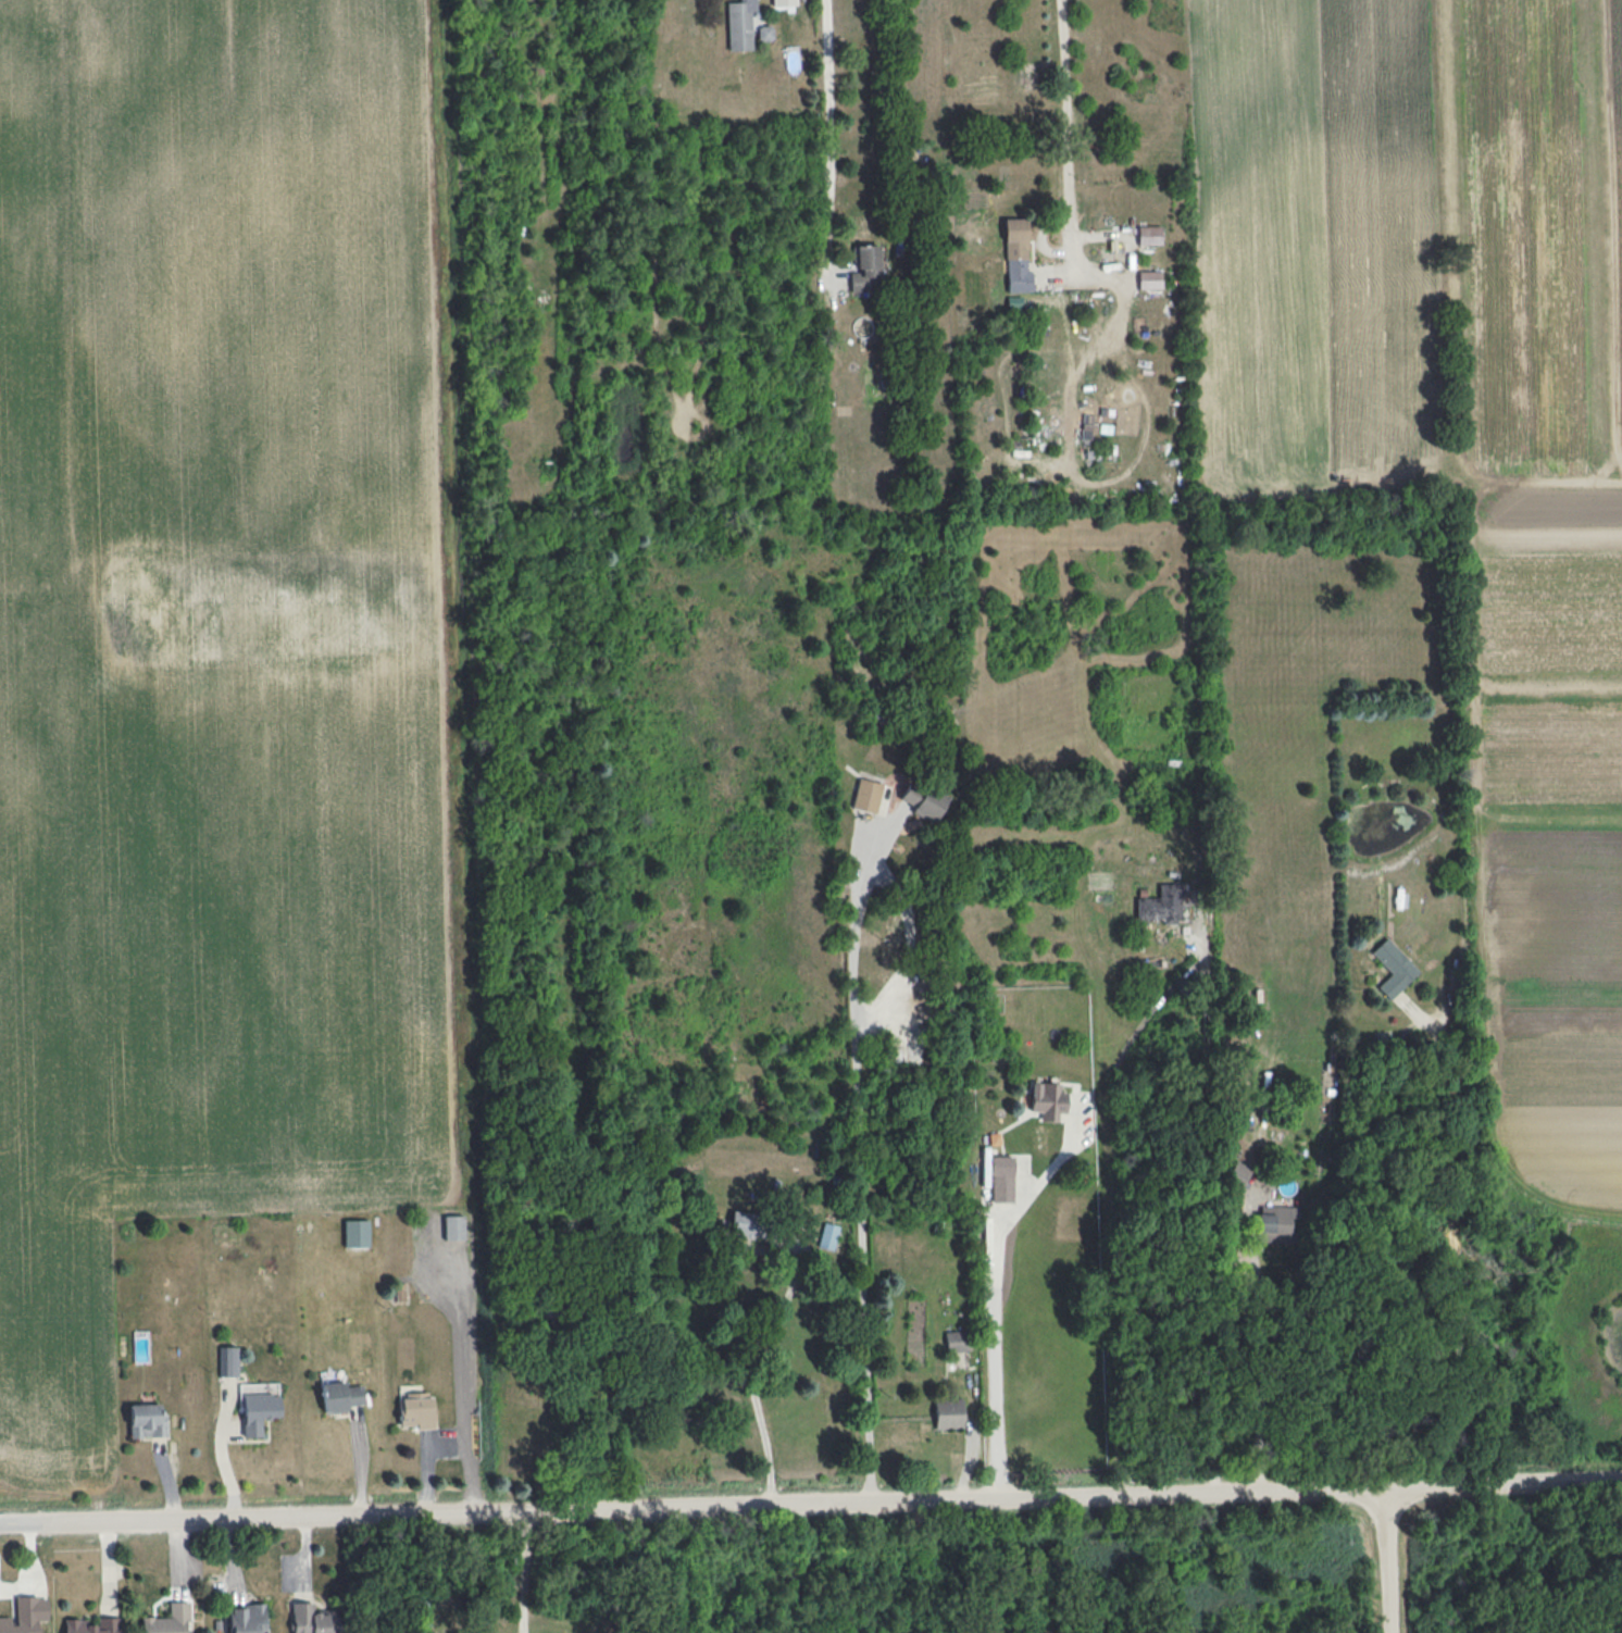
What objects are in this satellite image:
building: (783, 2)
building: (744, 25)
road: (823, 136)
road: (1612, 222)
building: (1148, 235)
building: (1016, 255)
road: (1070, 255)
building: (865, 269)
building: (1149, 279)
building: (1085, 431)
building: (866, 795)
building: (921, 800)
building: (1161, 905)
building: (1393, 968)
building: (1048, 1100)
road: (858, 1163)
building: (1237, 1174)
building: (1001, 1179)
road: (1106, 1209)
building: (744, 1223)
building: (1276, 1223)
building: (453, 1226)
building: (355, 1233)
building: (828, 1236)
road: (1456, 1250)
road: (997, 1320)
building: (957, 1341)
road: (457, 1344)
building: (227, 1361)
road: (748, 1380)
road: (1262, 1381)
building: (339, 1396)
building: (415, 1410)
building: (948, 1413)
building: (147, 1420)
road: (449, 1441)
road: (835, 1501)
road: (25, 1529)
road: (1385, 1558)
road: (525, 1572)
building: (24, 1616)
building: (247, 1618)
building: (311, 1619)
building: (167, 1620)
building: (91, 1625)

